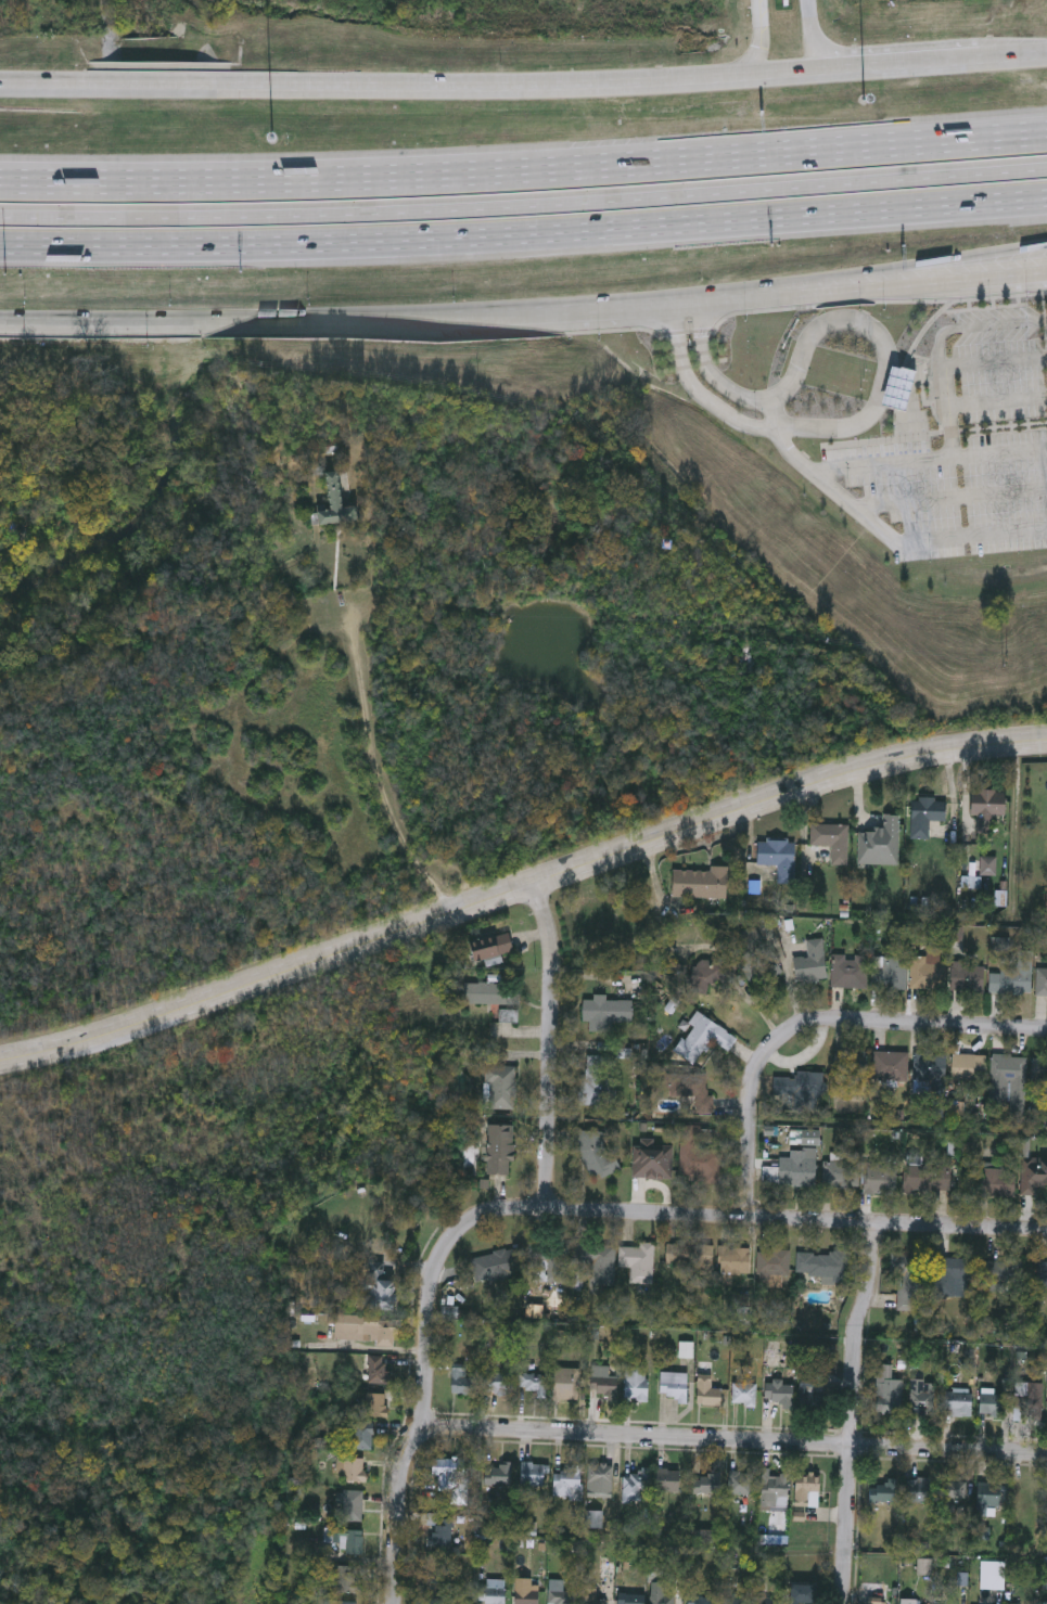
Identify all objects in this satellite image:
road: (813, 35)
road: (762, 43)
road: (524, 85)
road: (524, 174)
road: (524, 206)
building: (38, 216)
road: (523, 234)
road: (871, 269)
road: (1045, 273)
road: (1045, 274)
road: (1000, 278)
road: (829, 293)
road: (567, 310)
road: (218, 322)
road: (979, 326)
road: (884, 347)
road: (947, 364)
road: (710, 370)
road: (697, 387)
road: (997, 402)
road: (771, 416)
parking lot: (961, 447)
road: (929, 460)
road: (950, 497)
building: (337, 504)
road: (890, 536)
road: (379, 781)
building: (986, 808)
building: (925, 814)
building: (831, 841)
building: (879, 843)
building: (777, 857)
building: (987, 865)
building: (698, 883)
road: (520, 889)
building: (482, 947)
building: (809, 963)
building: (758, 970)
building: (848, 971)
building: (927, 972)
building: (698, 973)
building: (888, 973)
building: (1013, 976)
building: (967, 978)
building: (1042, 981)
building: (489, 993)
building: (603, 1013)
building: (507, 1016)
road: (815, 1021)
building: (700, 1038)
road: (550, 1045)
building: (848, 1065)
building: (889, 1067)
building: (929, 1068)
building: (967, 1068)
building: (596, 1080)
building: (1007, 1080)
building: (1038, 1081)
building: (498, 1088)
building: (802, 1091)
building: (684, 1093)
building: (498, 1150)
building: (593, 1153)
building: (697, 1157)
building: (652, 1159)
building: (796, 1168)
building: (840, 1173)
building: (1032, 1175)
building: (927, 1178)
building: (879, 1179)
building: (997, 1182)
road: (738, 1220)
building: (689, 1258)
building: (733, 1260)
building: (597, 1261)
building: (637, 1262)
building: (773, 1263)
building: (496, 1265)
building: (550, 1266)
building: (822, 1267)
building: (1004, 1275)
building: (950, 1278)
building: (1042, 1278)
building: (909, 1282)
building: (375, 1287)
building: (362, 1330)
building: (376, 1371)
building: (462, 1382)
building: (602, 1382)
building: (529, 1383)
building: (493, 1384)
building: (564, 1384)
building: (635, 1384)
building: (673, 1386)
building: (888, 1391)
building: (742, 1394)
building: (778, 1395)
building: (922, 1396)
building: (710, 1397)
building: (812, 1397)
building: (1029, 1399)
building: (991, 1402)
building: (958, 1403)
building: (373, 1406)
road: (853, 1411)
road: (419, 1427)
building: (359, 1437)
road: (733, 1441)
building: (348, 1470)
building: (531, 1474)
building: (497, 1475)
building: (449, 1476)
building: (600, 1479)
building: (666, 1480)
building: (566, 1483)
building: (739, 1483)
building: (705, 1484)
building: (636, 1485)
building: (774, 1490)
building: (806, 1490)
building: (918, 1490)
building: (884, 1491)
building: (954, 1492)
building: (988, 1498)
building: (350, 1505)
building: (442, 1530)
building: (349, 1541)
building: (989, 1575)
building: (345, 1578)
building: (491, 1591)
building: (437, 1592)
building: (659, 1593)
building: (803, 1593)
building: (525, 1596)
building: (559, 1596)
building: (590, 1596)
building: (629, 1597)
building: (699, 1600)
building: (768, 1600)
building: (735, 1601)
building: (878, 1601)
building: (346, 1602)

